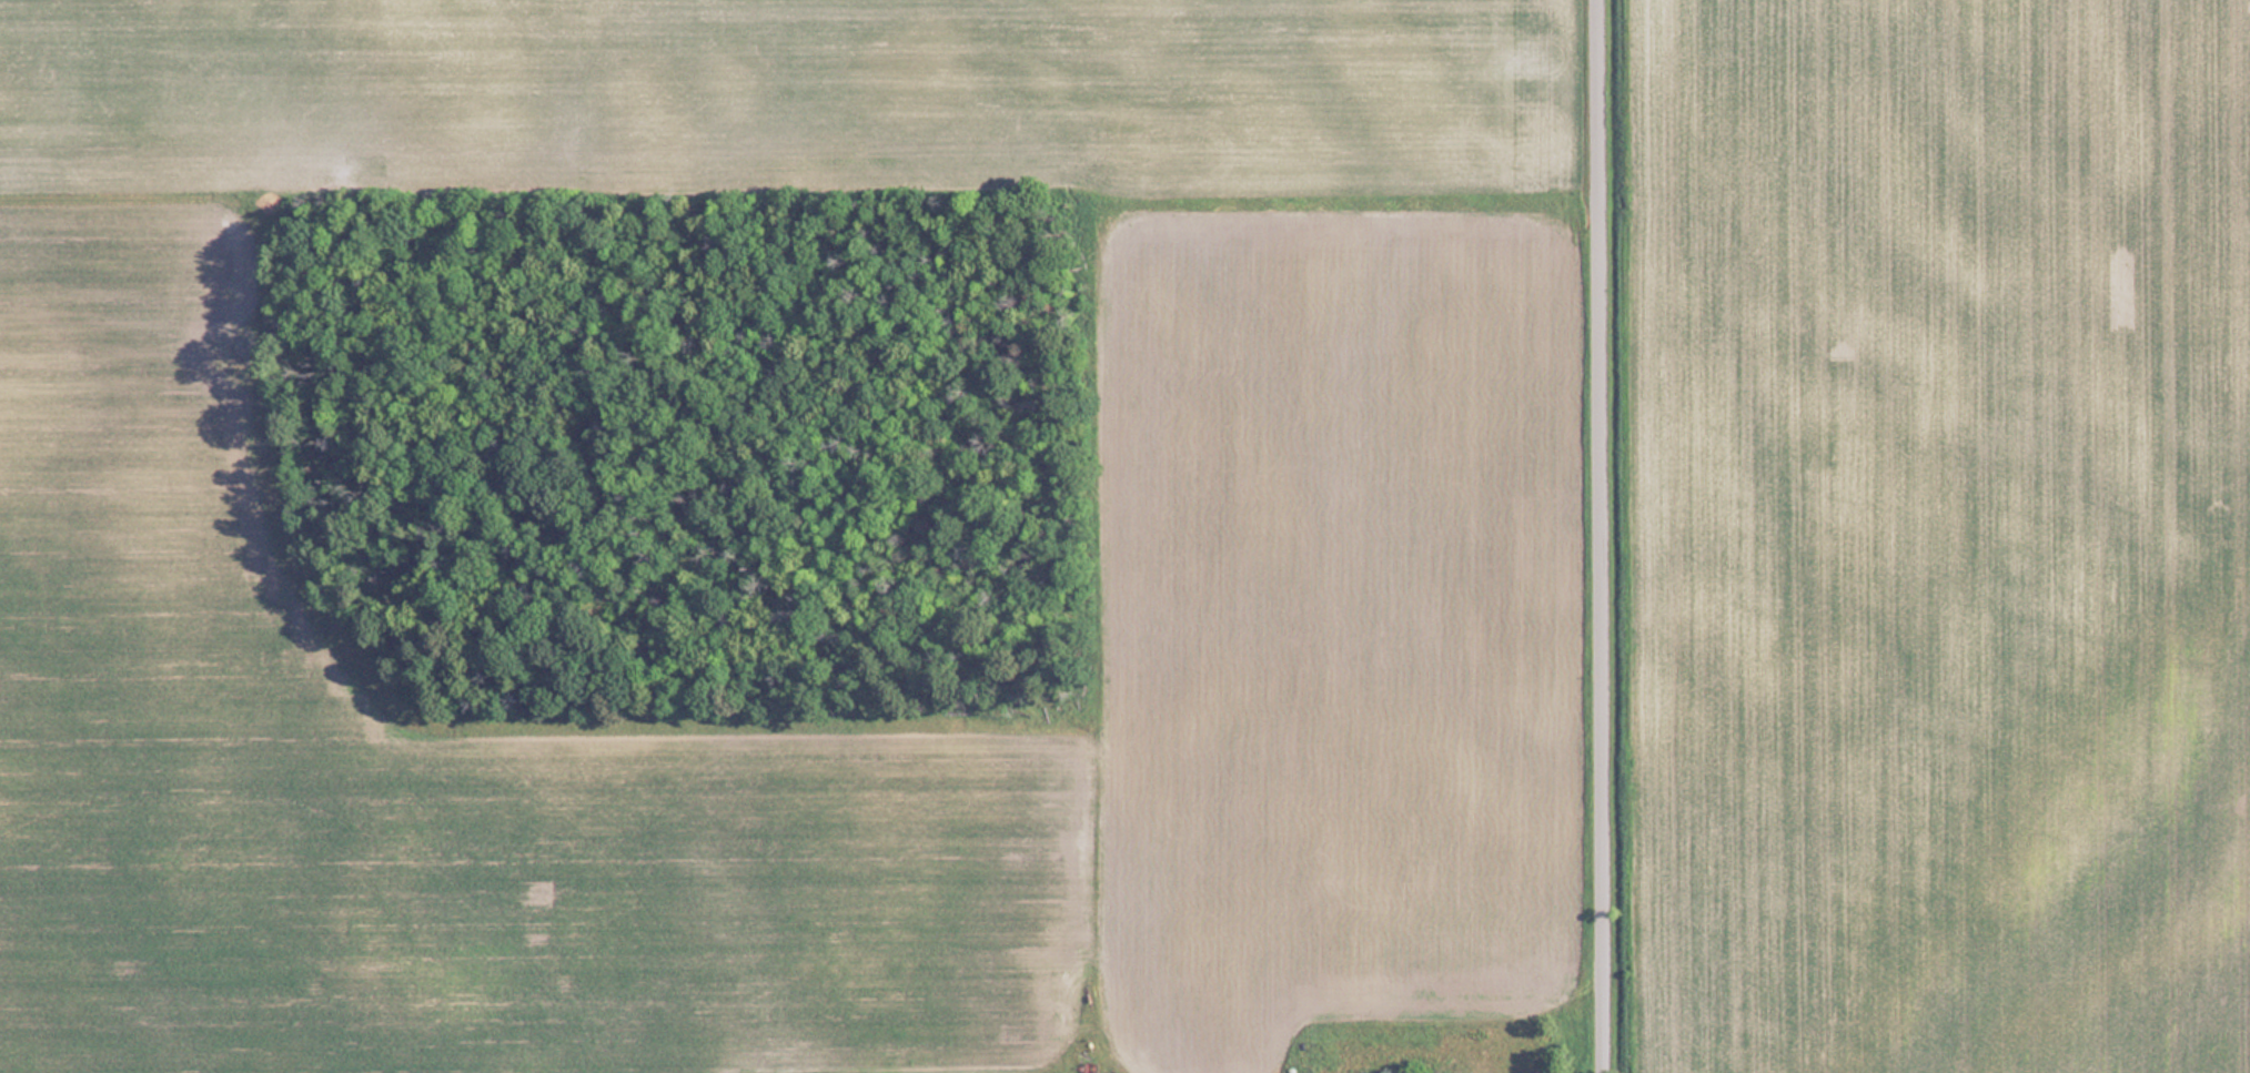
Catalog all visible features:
road: (1605, 536)

